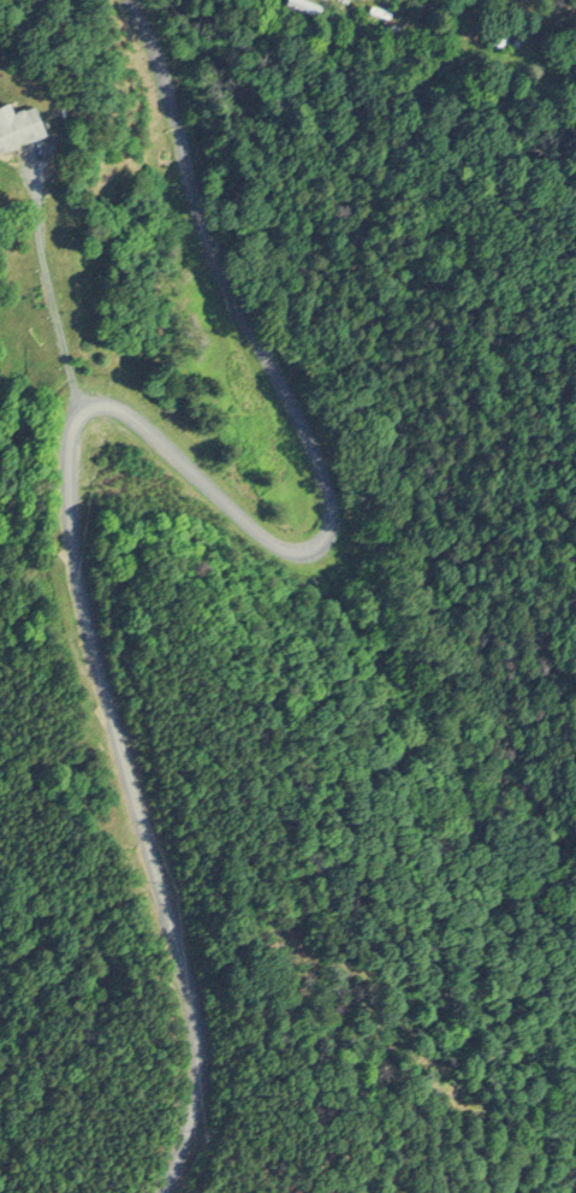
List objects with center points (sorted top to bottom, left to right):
building: (11, 120)
road: (108, 408)

